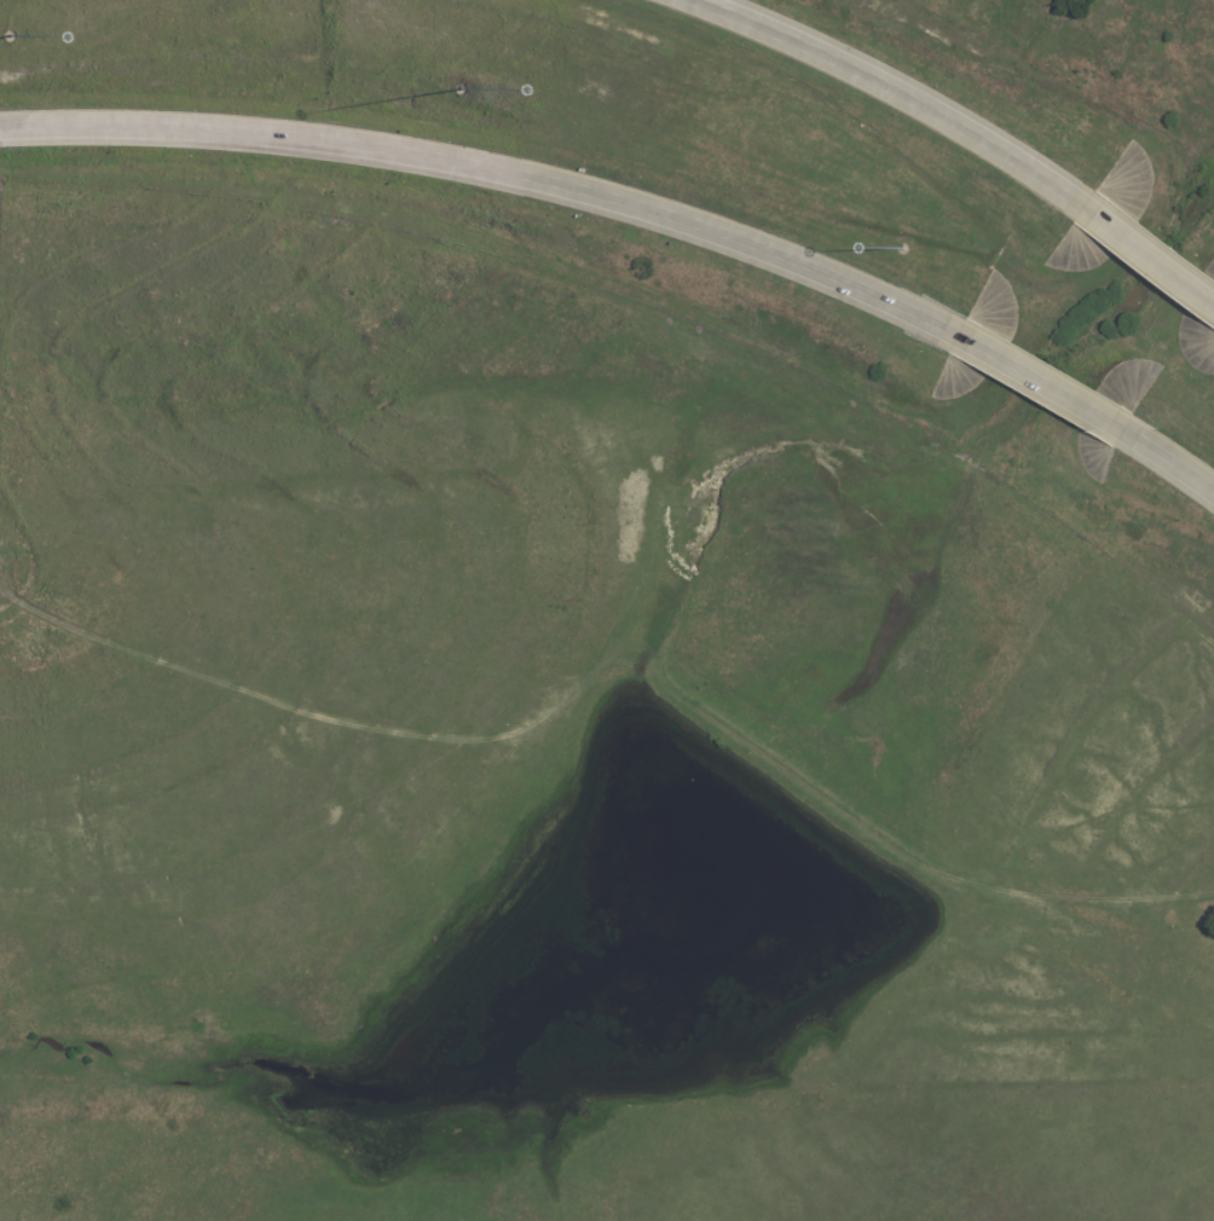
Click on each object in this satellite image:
road: (885, 87)
road: (489, 172)
road: (1144, 256)
road: (1040, 381)
road: (1170, 462)

